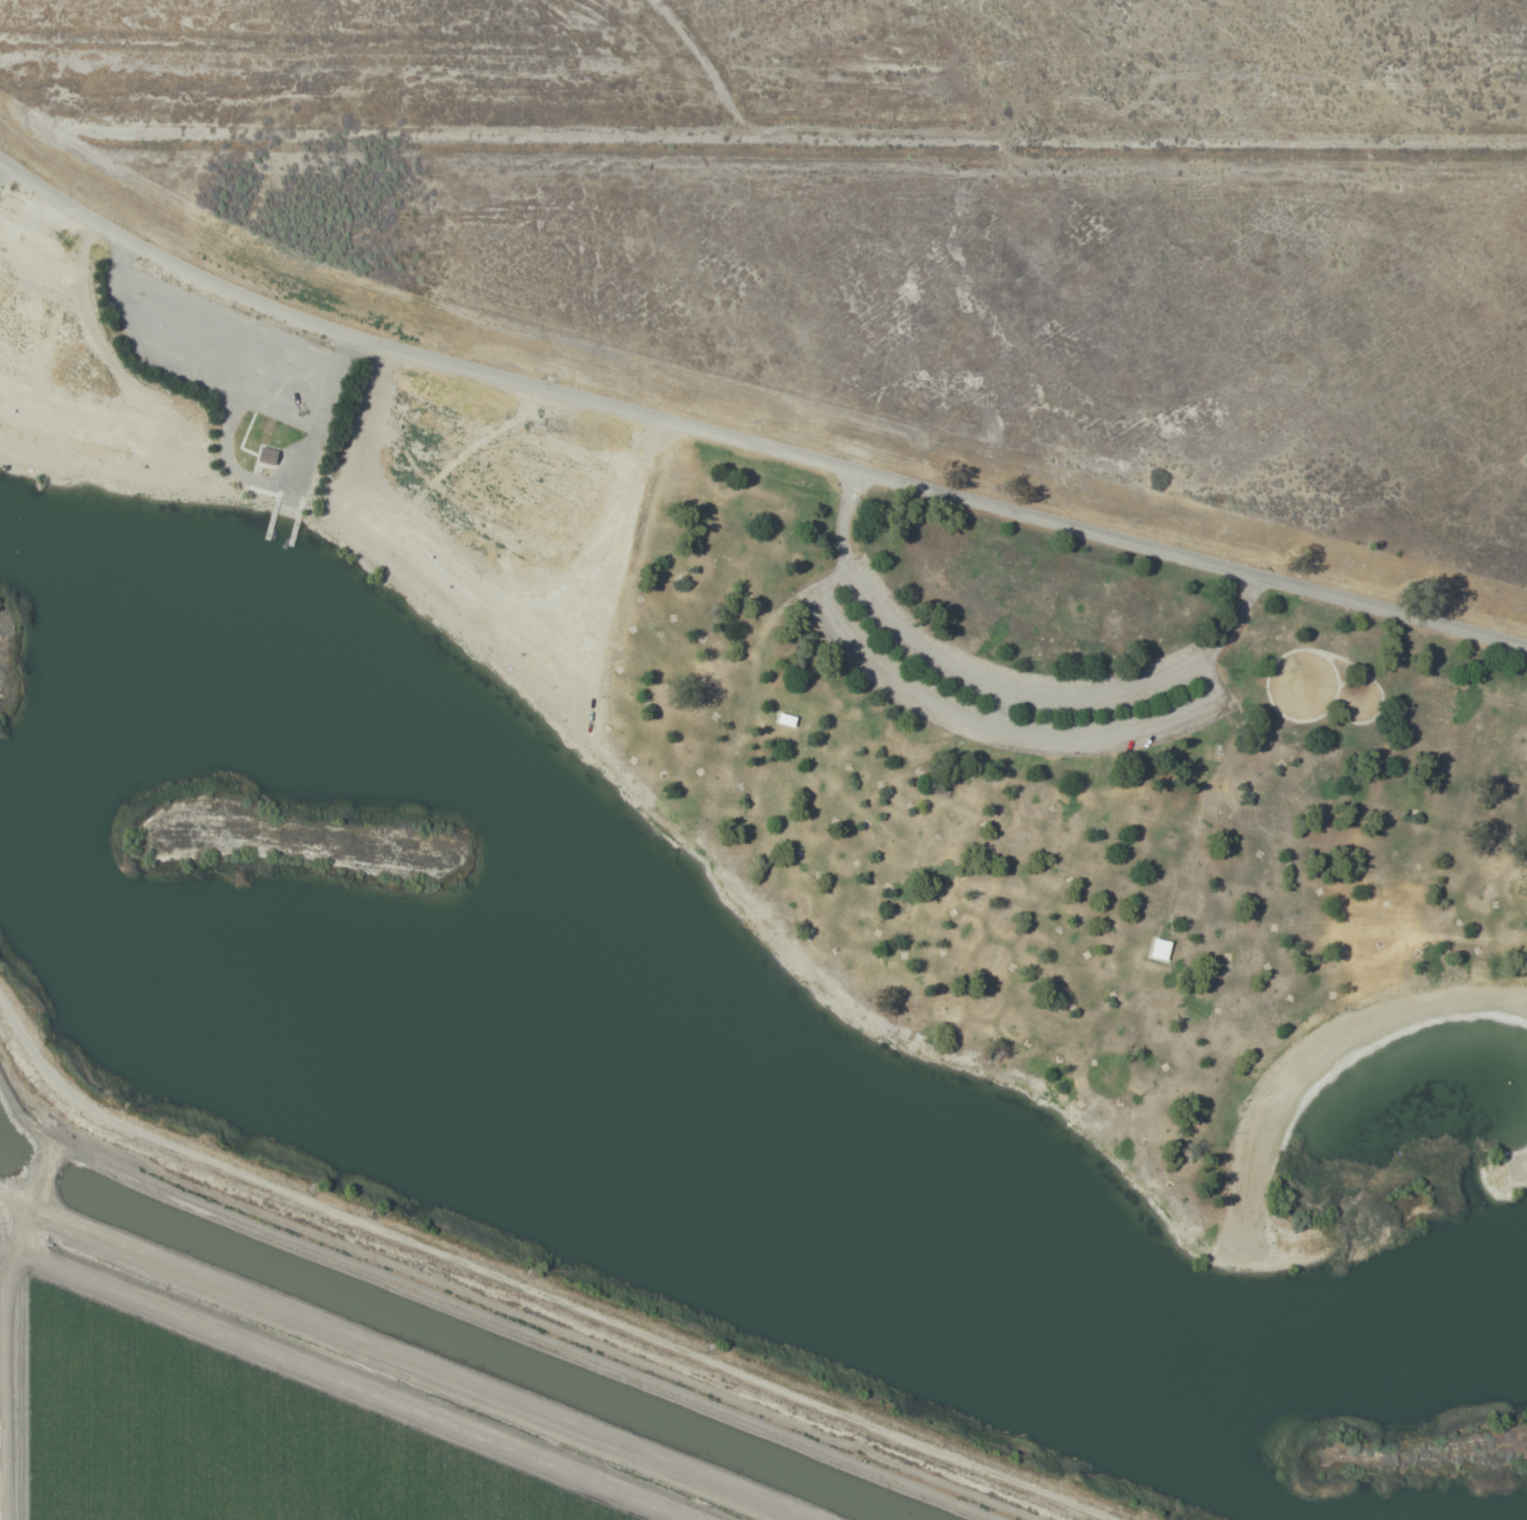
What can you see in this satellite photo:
road: (748, 442)
building: (267, 455)
road: (1005, 680)
road: (999, 705)
building: (783, 720)
road: (999, 731)
building: (1158, 949)
building: (1097, 1354)
crop: (295, 1402)

